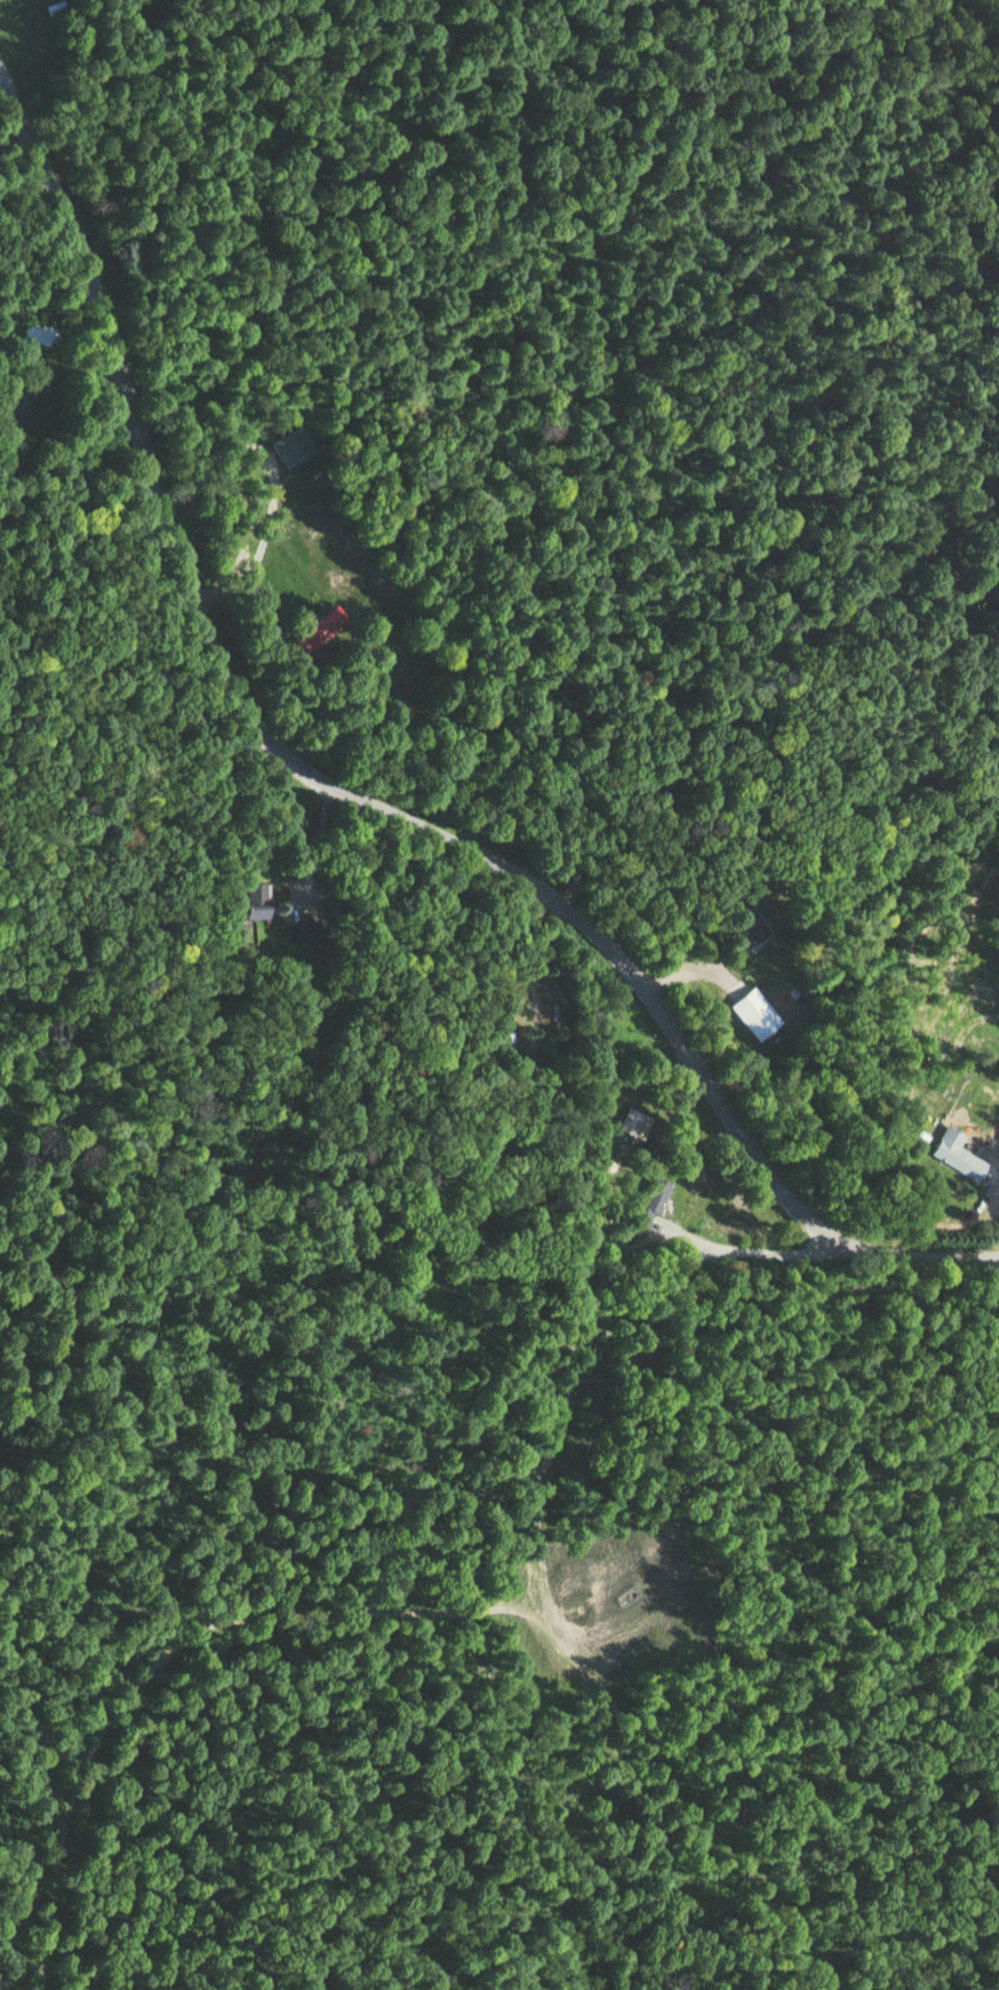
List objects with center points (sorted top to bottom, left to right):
building: (56, 8)
building: (39, 332)
building: (24, 407)
building: (293, 444)
building: (311, 639)
road: (281, 754)
building: (254, 900)
building: (753, 925)
building: (309, 930)
building: (758, 1013)
building: (504, 1052)
building: (955, 1154)
building: (651, 1202)
road: (613, 1237)
road: (909, 1255)
road: (243, 1615)

